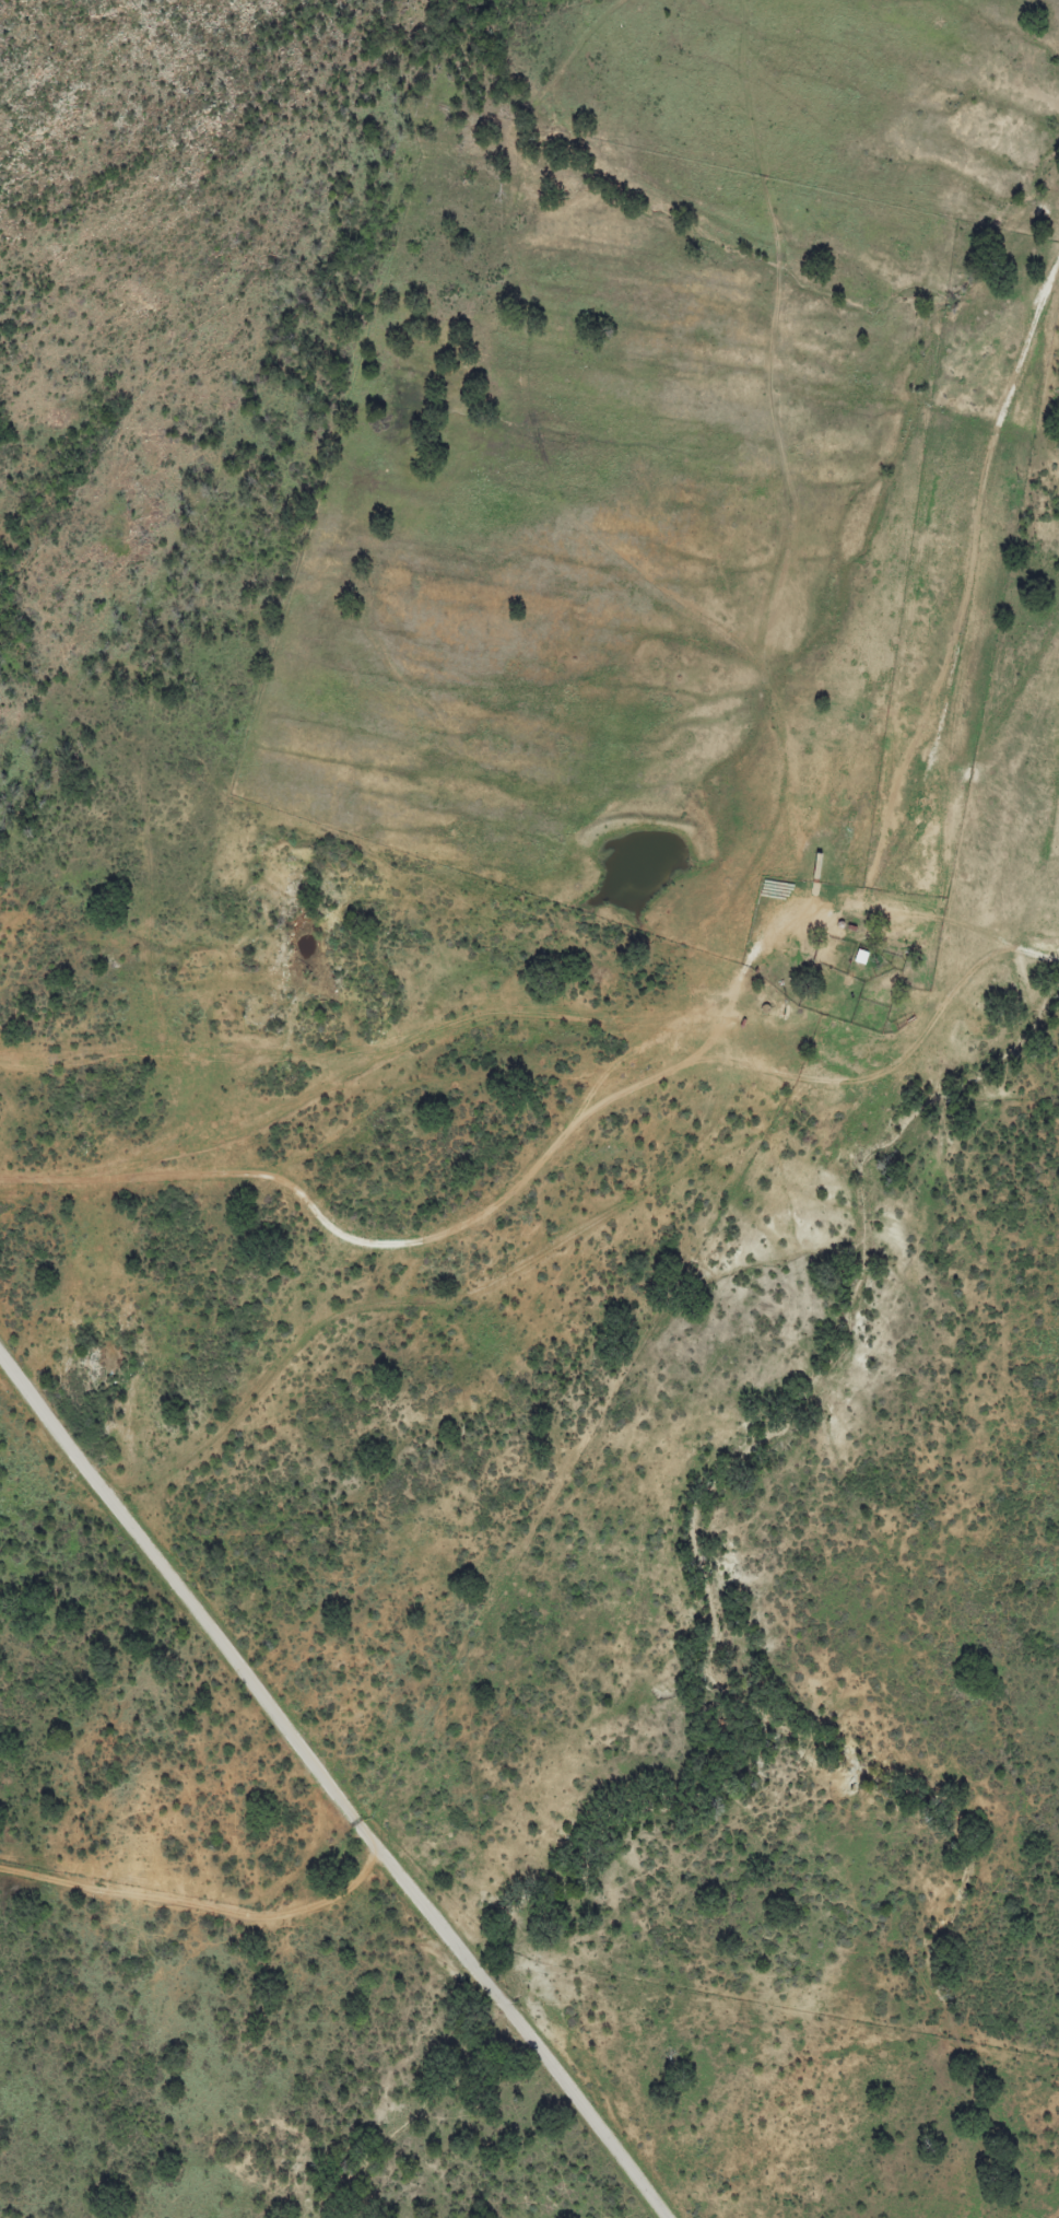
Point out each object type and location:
building: (819, 866)
building: (861, 958)
road: (601, 1216)
road: (331, 1787)
road: (198, 1903)

